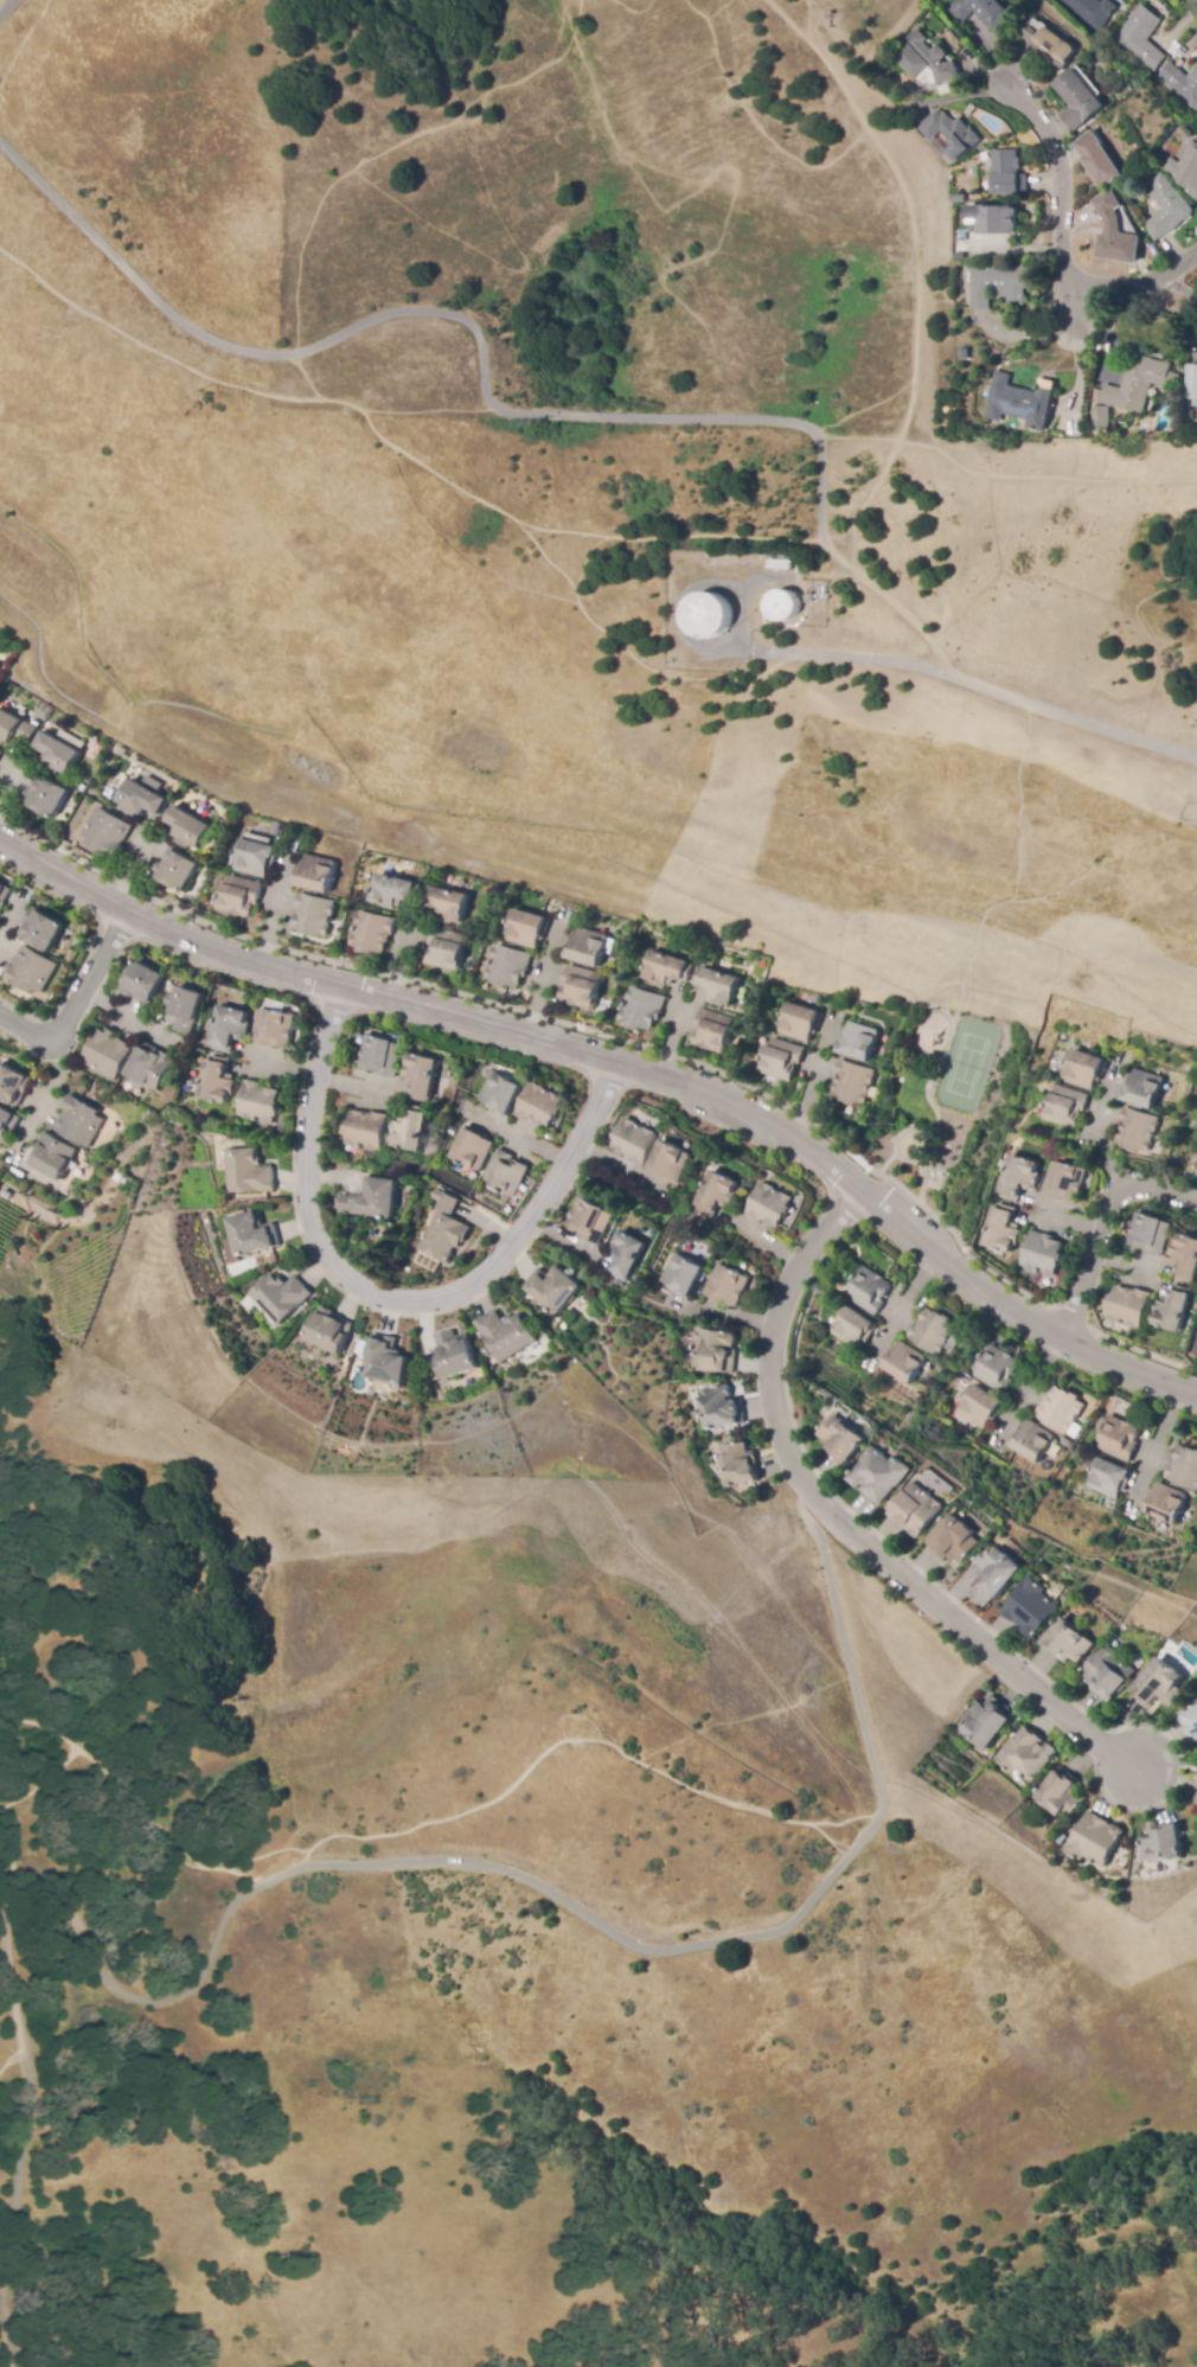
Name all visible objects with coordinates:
road: (923, 5)
road: (6, 8)
building: (1092, 11)
building: (979, 12)
building: (1140, 37)
building: (1048, 45)
building: (924, 60)
building: (1179, 84)
building: (1077, 100)
building: (950, 133)
building: (982, 148)
building: (1097, 160)
building: (1184, 169)
building: (1007, 175)
road: (1063, 180)
road: (909, 207)
building: (1166, 207)
building: (961, 210)
building: (999, 219)
building: (1114, 232)
road: (1134, 281)
building: (998, 284)
road: (1184, 287)
road: (1067, 312)
road: (1076, 370)
building: (1193, 382)
building: (1139, 384)
road: (487, 398)
building: (1020, 402)
building: (1101, 418)
road: (392, 446)
road: (975, 474)
building: (780, 564)
building: (808, 597)
building: (786, 604)
building: (708, 616)
road: (977, 685)
building: (14, 729)
building: (0, 753)
building: (58, 754)
building: (47, 797)
building: (142, 799)
building: (188, 827)
building: (107, 833)
building: (256, 858)
building: (177, 870)
building: (316, 874)
building: (393, 891)
building: (4, 895)
building: (241, 896)
building: (447, 904)
building: (314, 915)
building: (43, 929)
building: (527, 929)
building: (372, 932)
building: (587, 947)
building: (446, 949)
building: (508, 966)
road: (966, 967)
building: (665, 970)
building: (31, 971)
building: (617, 971)
building: (145, 983)
building: (716, 984)
building: (581, 987)
building: (807, 997)
road: (73, 1002)
building: (186, 1009)
building: (641, 1009)
building: (799, 1022)
building: (230, 1029)
building: (275, 1029)
building: (713, 1031)
building: (859, 1041)
building: (109, 1054)
building: (383, 1056)
building: (781, 1060)
road: (623, 1062)
building: (151, 1067)
building: (1083, 1069)
building: (423, 1075)
building: (218, 1079)
road: (817, 1080)
building: (853, 1082)
building: (12, 1085)
building: (1142, 1088)
building: (501, 1093)
building: (257, 1103)
building: (542, 1106)
building: (1065, 1107)
park: (949, 1108)
building: (78, 1121)
building: (6, 1125)
building: (410, 1128)
building: (364, 1130)
building: (1138, 1130)
building: (634, 1141)
building: (472, 1149)
building: (52, 1157)
building: (670, 1162)
building: (248, 1172)
building: (504, 1172)
building: (1019, 1177)
building: (1196, 1177)
building: (1063, 1181)
building: (715, 1194)
building: (372, 1200)
building: (769, 1205)
building: (590, 1220)
road: (1105, 1223)
building: (444, 1229)
building: (1003, 1229)
building: (252, 1234)
building: (1151, 1234)
building: (626, 1254)
building: (1041, 1255)
building: (1186, 1258)
building: (681, 1275)
building: (726, 1285)
building: (553, 1288)
building: (869, 1291)
building: (280, 1297)
road: (388, 1300)
building: (1128, 1306)
building: (1174, 1309)
building: (1116, 1326)
building: (852, 1328)
building: (329, 1331)
building: (934, 1331)
building: (505, 1335)
building: (954, 1343)
building: (715, 1350)
building: (455, 1355)
building: (385, 1360)
building: (904, 1362)
building: (997, 1369)
building: (960, 1382)
building: (423, 1384)
building: (980, 1407)
building: (721, 1408)
building: (1061, 1409)
building: (1075, 1431)
building: (843, 1439)
building: (1120, 1439)
building: (1031, 1440)
road: (1164, 1440)
building: (738, 1465)
building: (1184, 1469)
building: (879, 1474)
building: (1109, 1478)
building: (1166, 1503)
building: (916, 1510)
road: (840, 1525)
building: (954, 1538)
building: (994, 1575)
building: (1030, 1607)
building: (1068, 1642)
building: (1183, 1658)
building: (1107, 1674)
building: (1159, 1684)
building: (987, 1721)
building: (1190, 1723)
building: (1026, 1755)
building: (1196, 1778)
building: (1061, 1793)
building: (1196, 1799)
road: (33, 1811)
road: (145, 1825)
road: (440, 1827)
building: (1094, 1840)
building: (1161, 1842)
road: (353, 1861)
park: (531, 1939)
road: (0, 2359)

